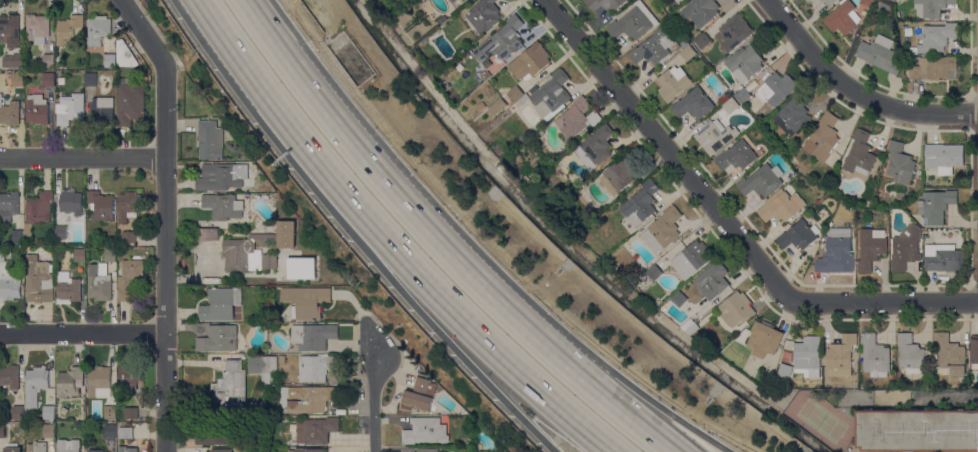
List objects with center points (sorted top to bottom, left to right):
building: (806, 0)
building: (808, 0)
building: (453, 1)
building: (465, 1)
building: (679, 1)
building: (828, 1)
building: (867, 2)
building: (605, 4)
building: (883, 7)
building: (931, 7)
building: (701, 11)
building: (484, 15)
building: (842, 17)
building: (442, 19)
building: (633, 22)
building: (38, 28)
building: (69, 29)
building: (10, 30)
building: (98, 32)
building: (733, 32)
road: (220, 36)
building: (937, 37)
building: (502, 40)
road: (300, 41)
building: (702, 41)
road: (279, 45)
building: (653, 48)
building: (688, 53)
building: (880, 53)
building: (125, 54)
building: (14, 60)
building: (48, 60)
building: (109, 60)
building: (746, 60)
building: (492, 61)
building: (530, 61)
building: (934, 68)
building: (17, 79)
building: (48, 79)
building: (91, 79)
building: (673, 82)
building: (776, 88)
road: (854, 90)
building: (516, 93)
building: (551, 95)
building: (743, 95)
building: (522, 100)
building: (130, 102)
building: (694, 104)
building: (481, 105)
building: (730, 105)
building: (498, 106)
building: (70, 108)
building: (37, 109)
building: (102, 110)
building: (10, 112)
building: (793, 114)
building: (577, 118)
building: (715, 135)
building: (823, 138)
building: (210, 140)
building: (597, 146)
building: (859, 154)
building: (737, 155)
road: (83, 157)
building: (944, 157)
road: (677, 162)
building: (900, 163)
building: (513, 165)
building: (619, 174)
building: (221, 176)
building: (790, 177)
building: (527, 179)
building: (762, 180)
building: (272, 190)
building: (71, 203)
building: (640, 203)
building: (9, 204)
building: (129, 205)
building: (936, 205)
building: (101, 206)
building: (223, 206)
building: (781, 206)
building: (38, 210)
road: (415, 215)
road: (165, 218)
building: (663, 229)
building: (61, 231)
building: (208, 234)
building: (799, 234)
building: (18, 236)
building: (128, 236)
building: (239, 244)
building: (871, 248)
building: (906, 248)
building: (837, 252)
building: (110, 254)
building: (2, 255)
building: (79, 255)
building: (692, 259)
building: (943, 259)
building: (269, 261)
building: (148, 267)
building: (301, 267)
road: (385, 271)
road: (418, 271)
building: (654, 272)
building: (129, 277)
building: (39, 280)
building: (99, 282)
building: (714, 283)
building: (10, 285)
building: (68, 286)
building: (691, 292)
building: (679, 299)
building: (306, 301)
road: (899, 302)
building: (222, 304)
building: (737, 309)
building: (691, 326)
road: (82, 332)
building: (314, 336)
building: (218, 338)
building: (765, 339)
building: (974, 350)
building: (910, 354)
building: (951, 354)
building: (808, 356)
building: (841, 356)
building: (875, 356)
building: (317, 367)
building: (264, 368)
building: (785, 370)
building: (10, 376)
building: (129, 377)
building: (37, 378)
building: (69, 381)
building: (99, 382)
building: (231, 383)
road: (638, 386)
road: (603, 392)
building: (419, 393)
road: (372, 397)
road: (950, 397)
building: (306, 398)
building: (18, 411)
building: (48, 412)
building: (110, 412)
building: (131, 412)
building: (110, 430)
building: (316, 430)
building: (917, 430)
building: (2, 431)
building: (49, 431)
building: (425, 431)
building: (125, 432)
building: (218, 435)
building: (0, 443)
building: (68, 445)
building: (37, 447)
building: (13, 449)
building: (127, 449)
building: (96, 450)
building: (221, 450)
building: (308, 450)
building: (428, 450)
building: (490, 451)
building: (913, 451)

